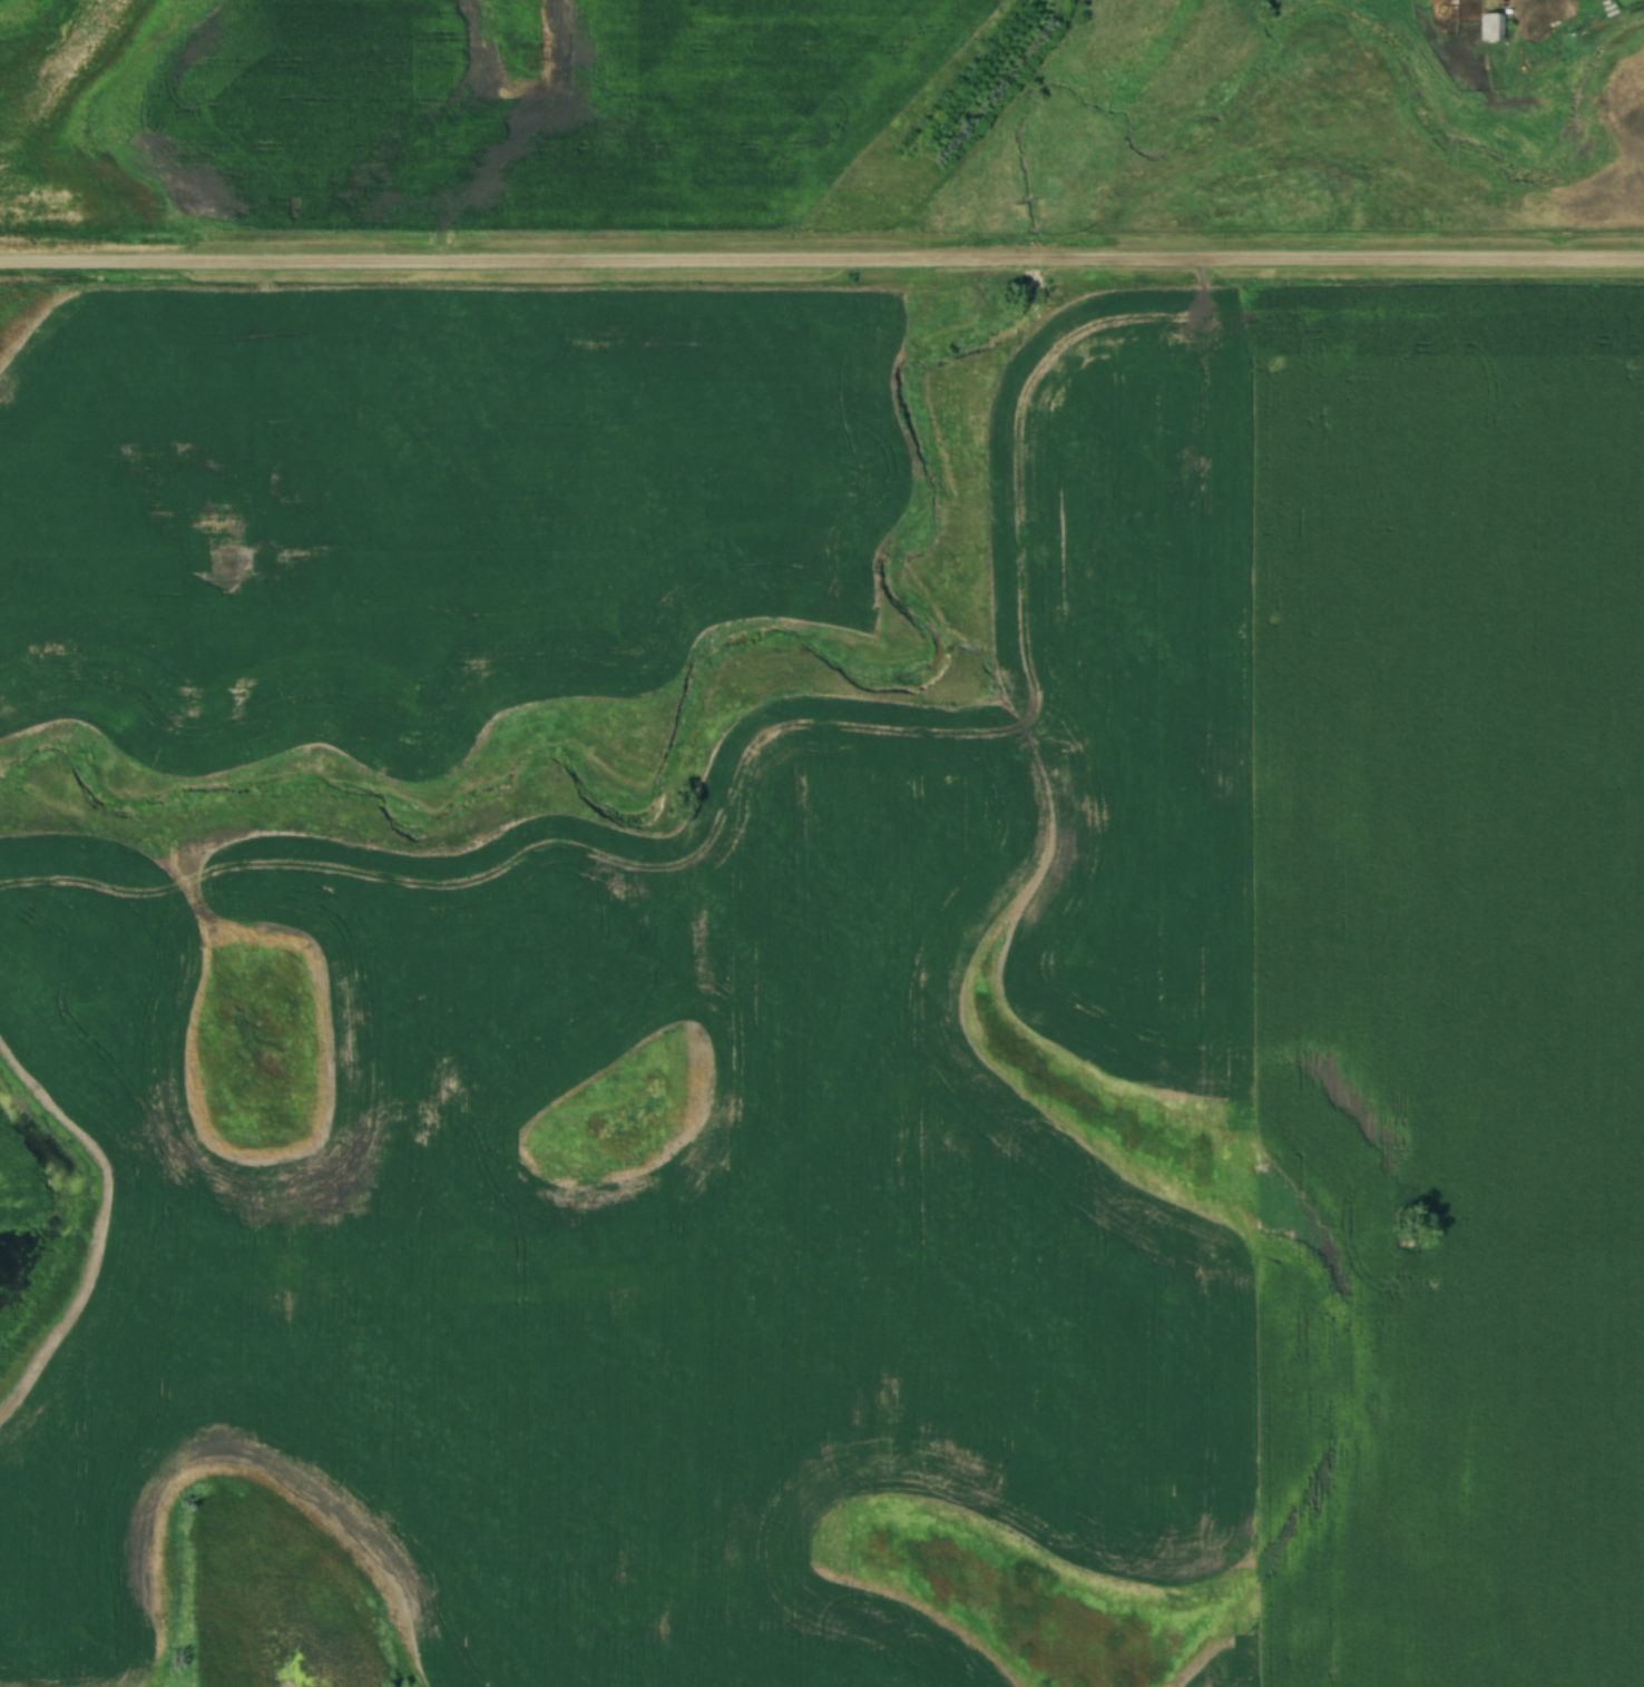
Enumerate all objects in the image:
building: (1489, 27)
road: (822, 247)

